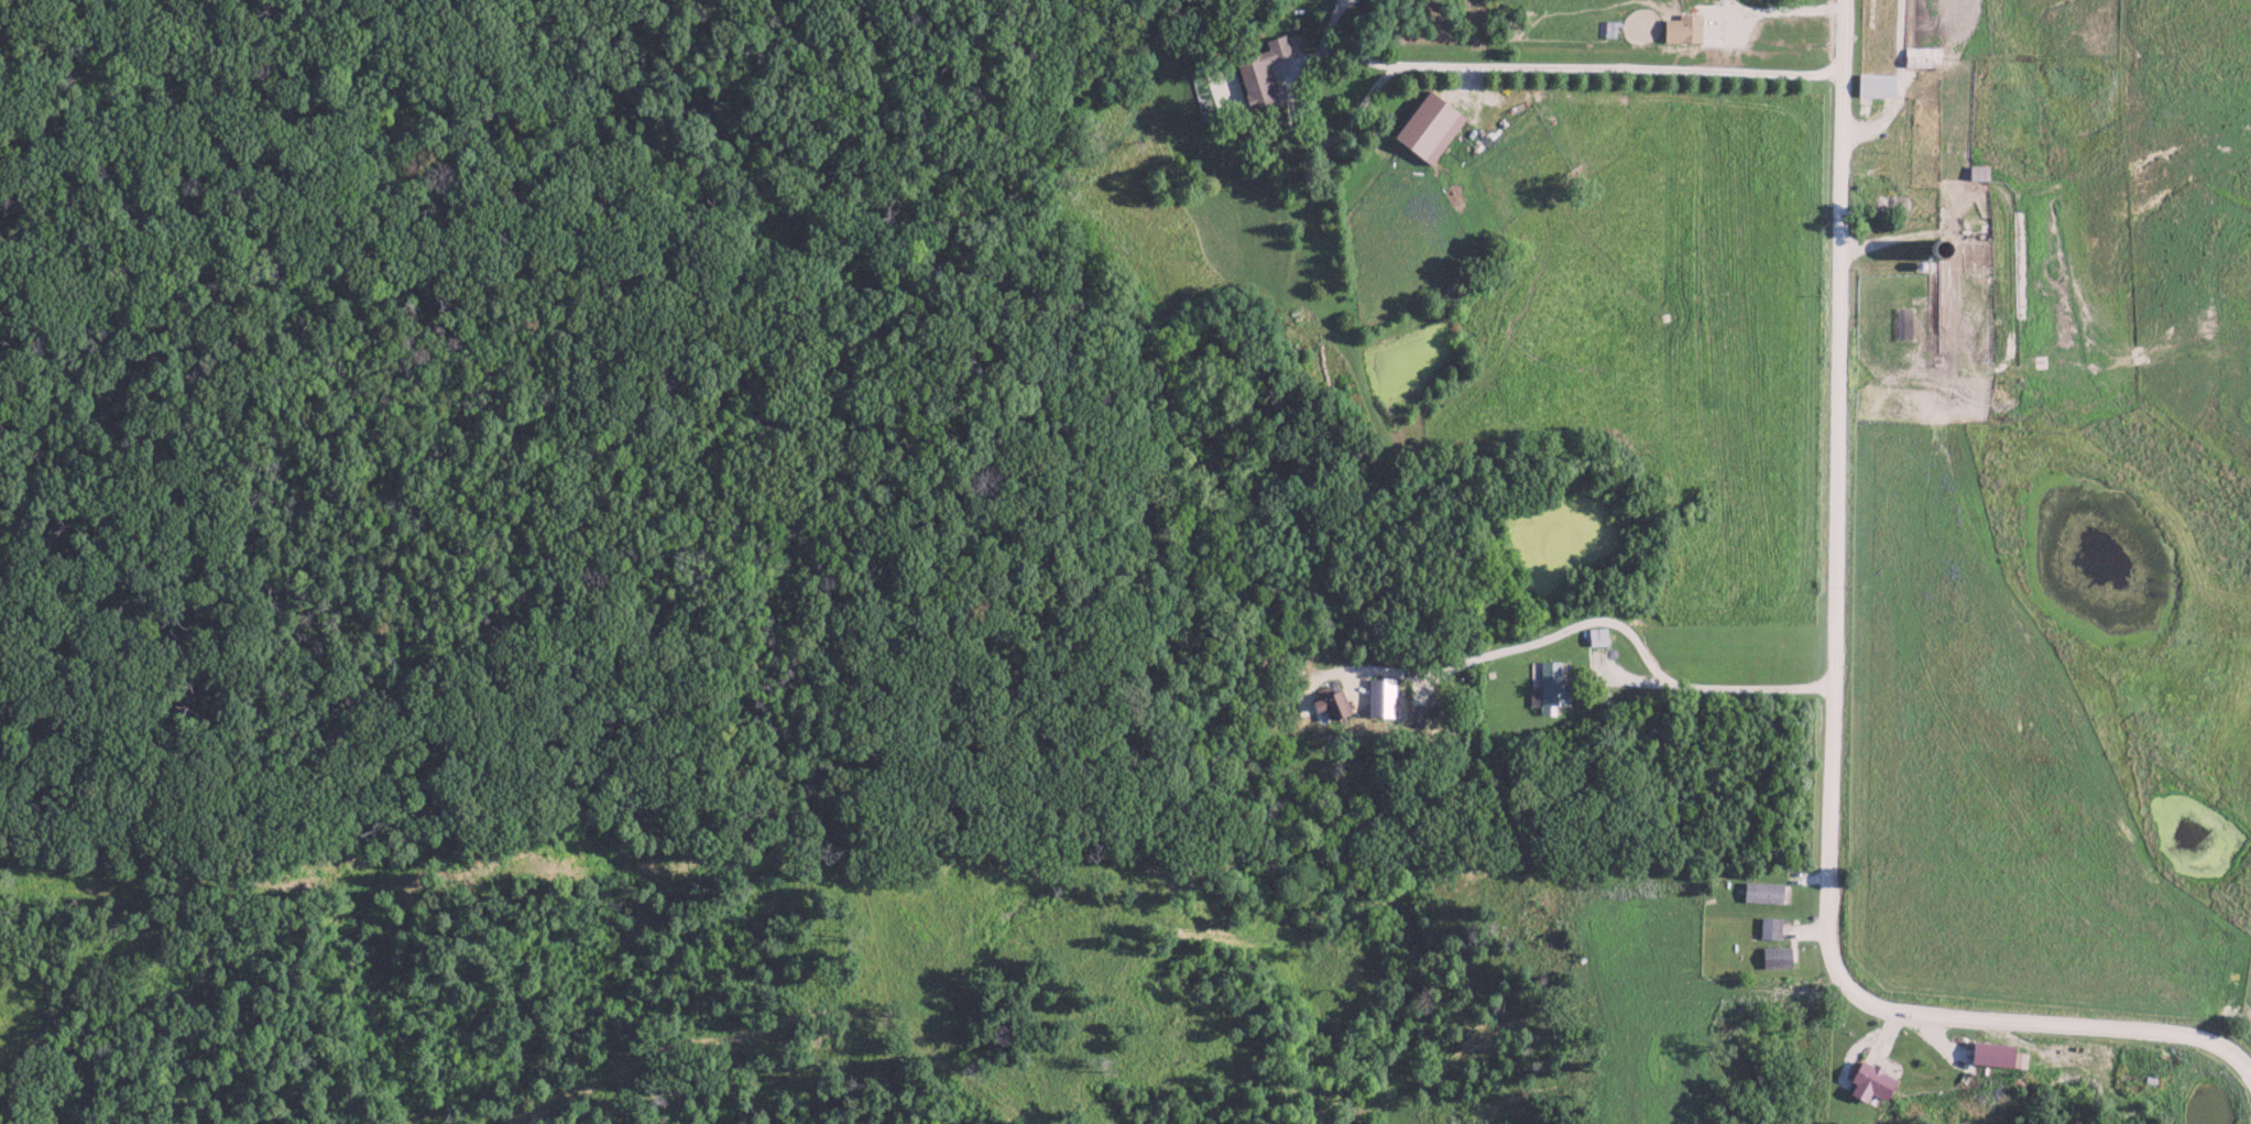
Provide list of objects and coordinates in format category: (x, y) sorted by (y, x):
building: (1680, 28)
road: (1618, 69)
building: (1257, 70)
road: (1286, 72)
building: (1223, 80)
building: (1873, 84)
building: (1423, 127)
building: (1595, 635)
road: (1714, 687)
building: (1548, 688)
building: (1380, 696)
building: (1330, 702)
road: (1837, 707)
building: (1760, 892)
building: (1769, 927)
building: (1773, 956)
building: (1993, 1054)
building: (1867, 1080)

